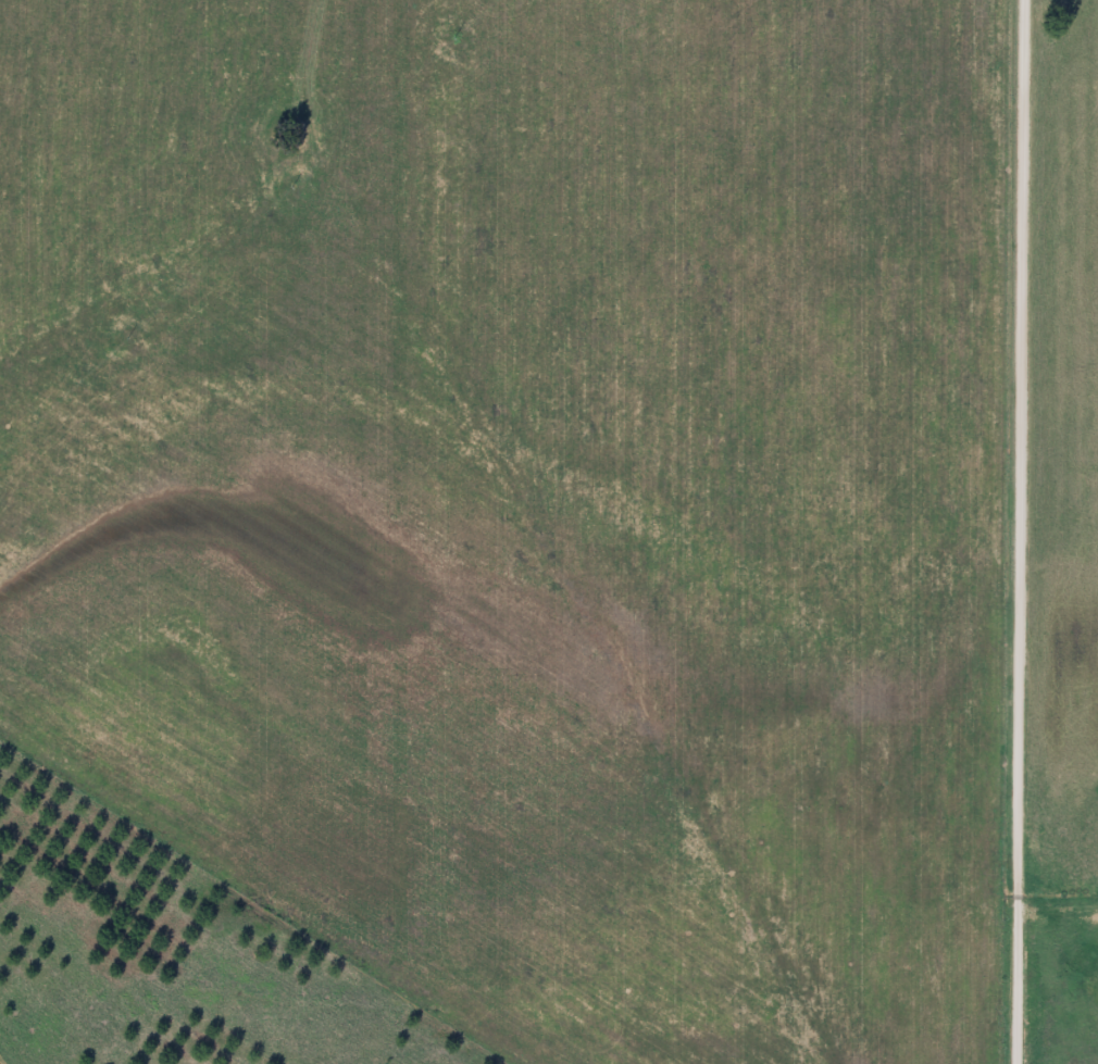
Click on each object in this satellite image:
road: (1022, 531)
road: (20, 1030)

